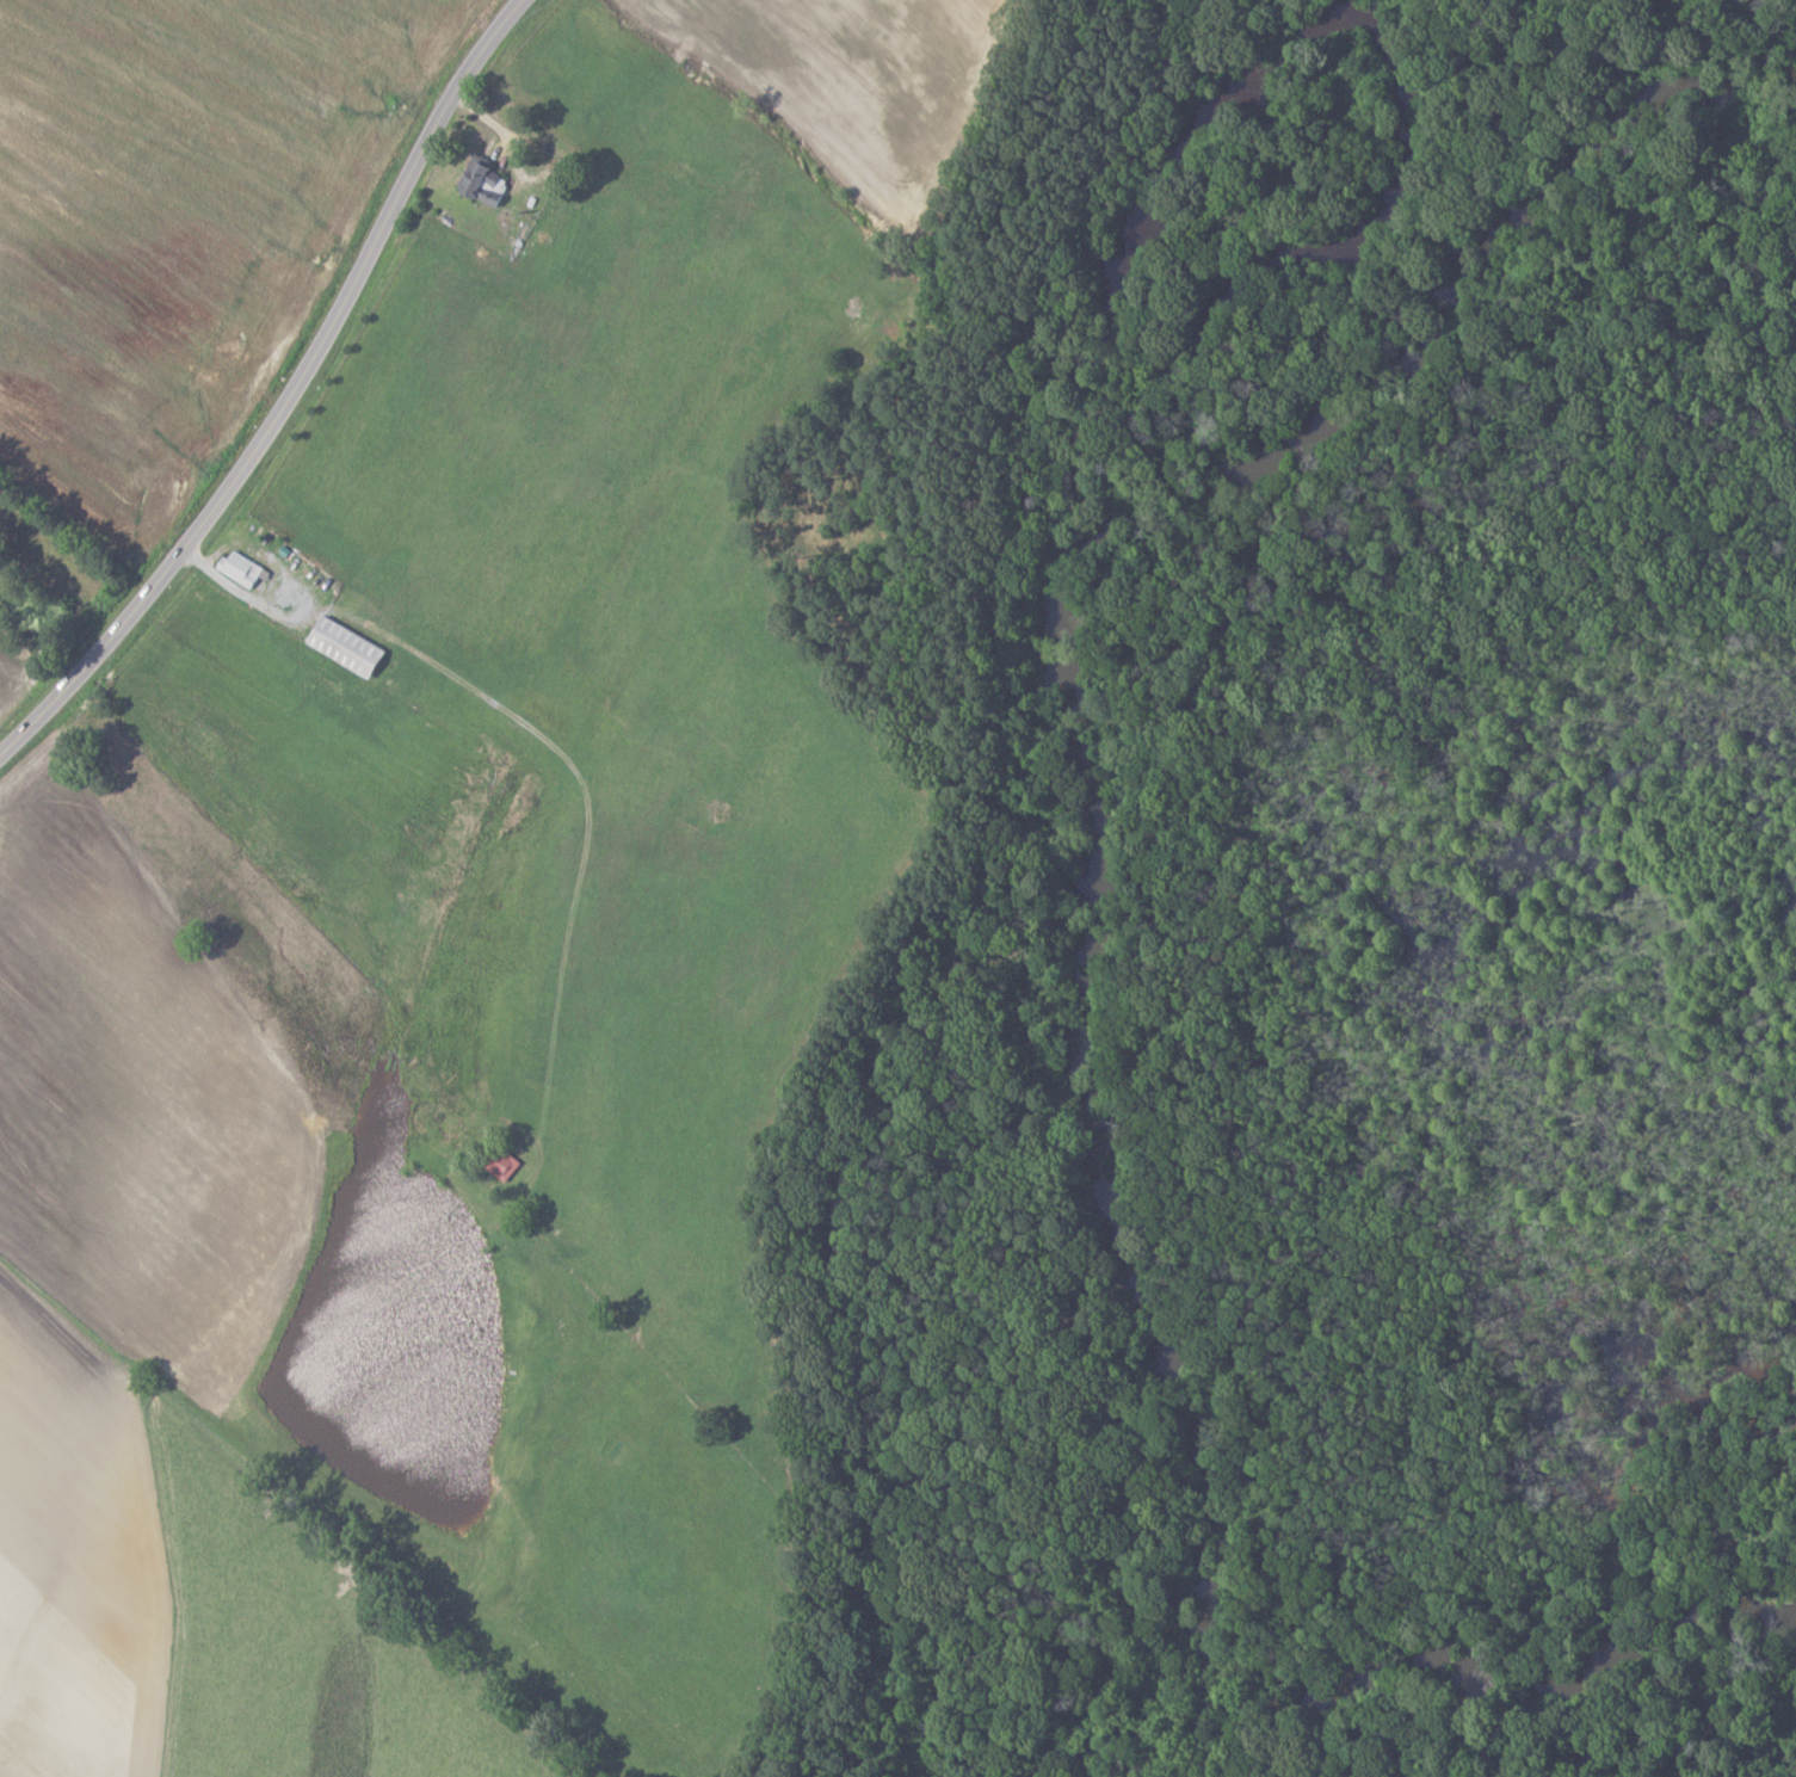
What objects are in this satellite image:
building: (492, 185)
road: (291, 397)
building: (243, 569)
building: (351, 648)
road: (543, 736)

